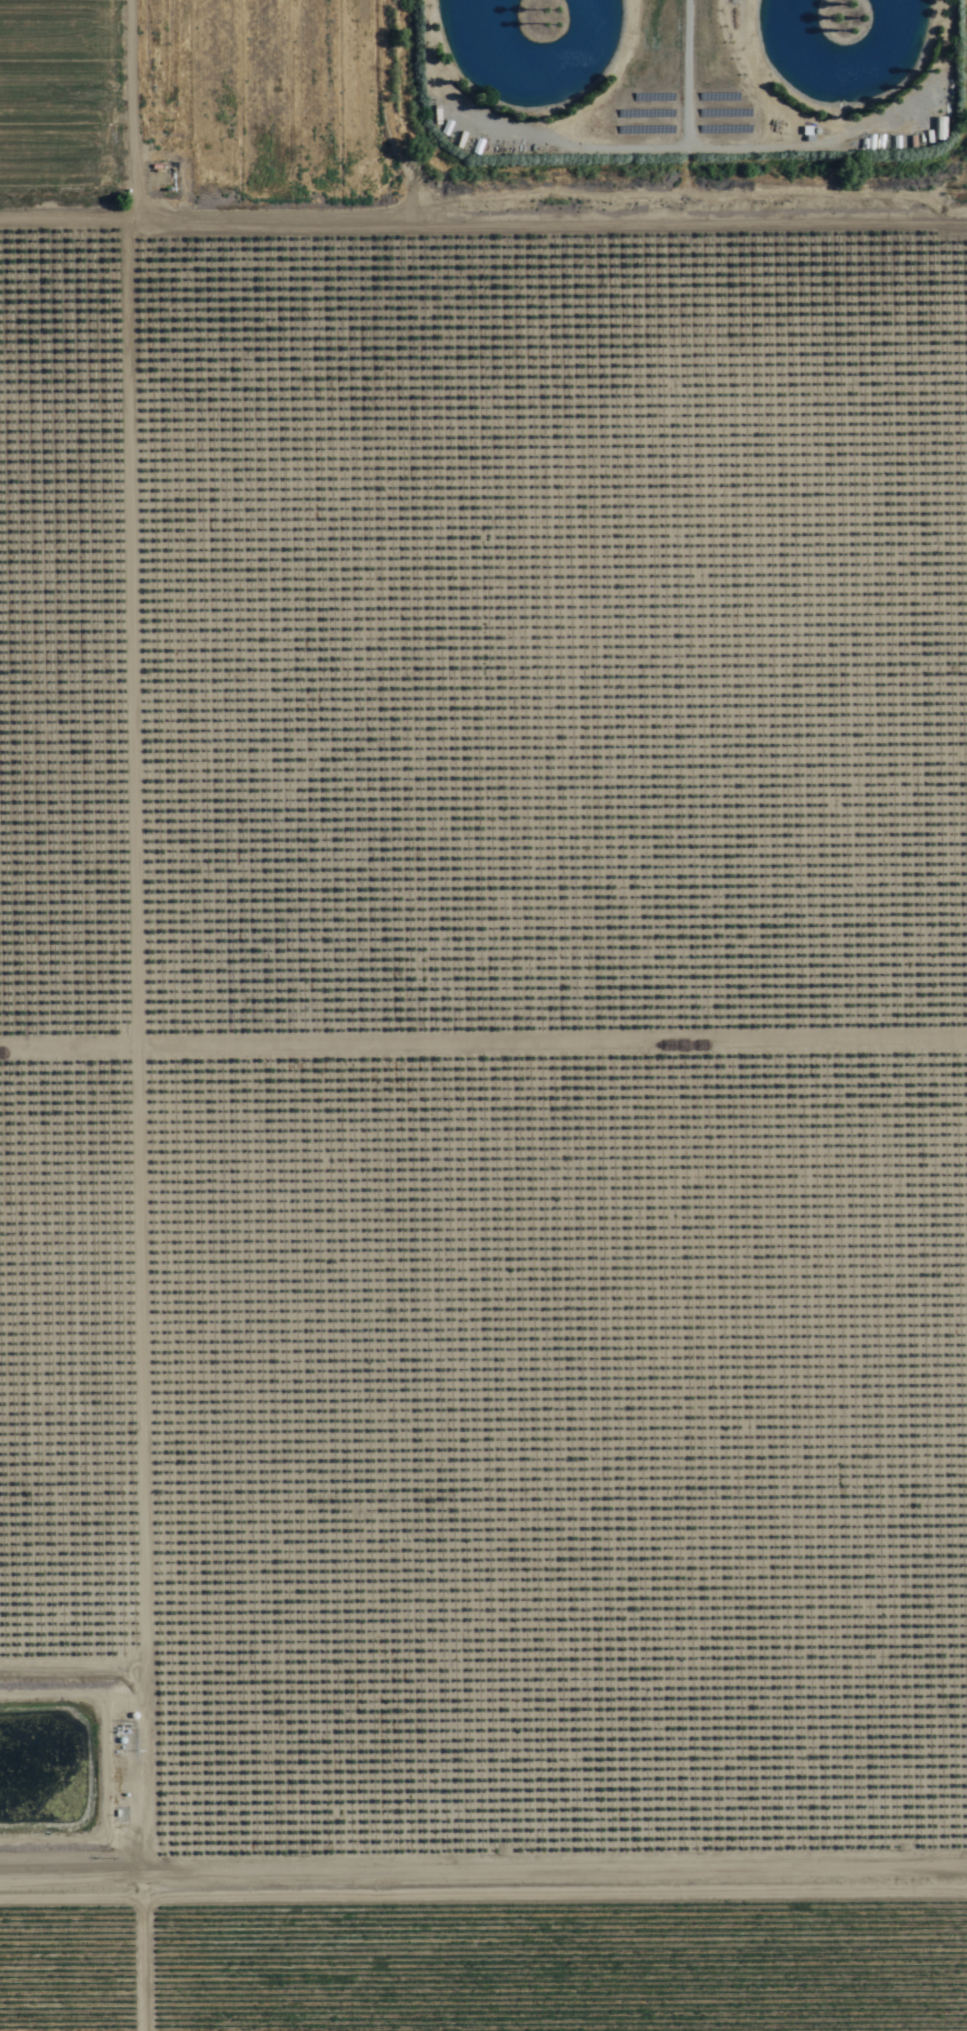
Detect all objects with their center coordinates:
crop: (163, 93)
crop: (942, 97)
road: (483, 219)
road: (483, 1864)
crop: (487, 1944)
road: (125, 1946)

